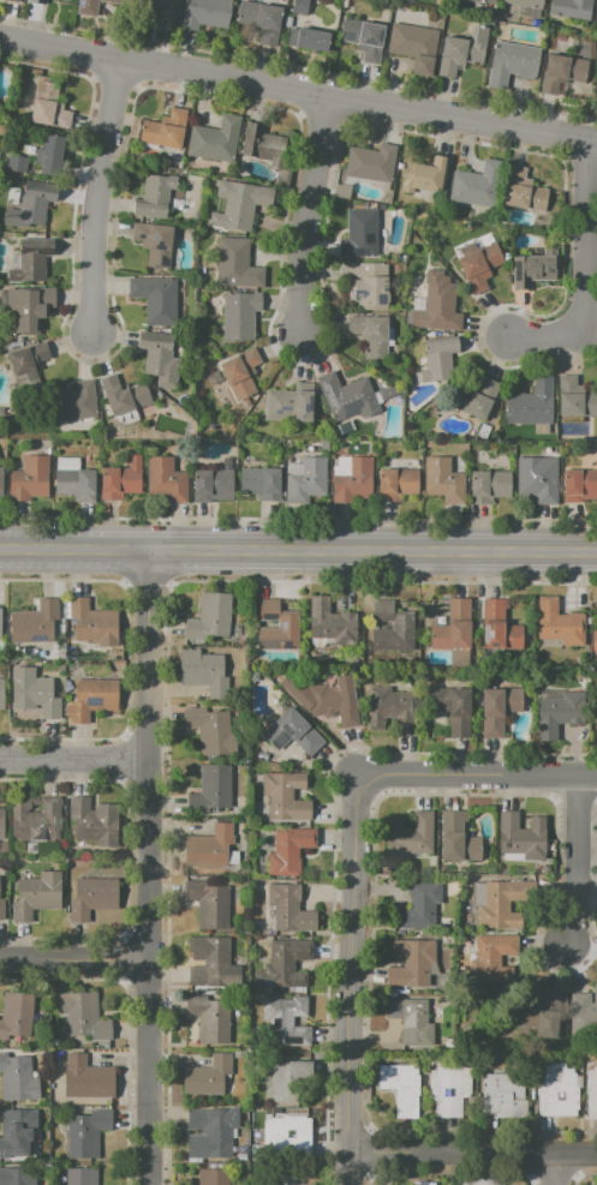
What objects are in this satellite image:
building: (10, 1)
building: (37, 1)
building: (484, 1)
building: (529, 4)
building: (94, 6)
building: (299, 7)
building: (157, 10)
building: (573, 10)
building: (205, 13)
building: (596, 13)
building: (261, 20)
building: (308, 38)
building: (365, 40)
building: (416, 46)
building: (464, 52)
building: (513, 64)
building: (563, 73)
road: (298, 90)
building: (49, 107)
building: (166, 130)
building: (216, 140)
building: (264, 145)
building: (50, 155)
building: (17, 163)
building: (372, 163)
building: (426, 175)
building: (195, 178)
building: (479, 185)
building: (525, 191)
road: (98, 197)
building: (155, 197)
building: (35, 203)
building: (244, 205)
road: (306, 216)
building: (360, 234)
building: (155, 243)
building: (441, 258)
building: (32, 261)
building: (239, 264)
building: (482, 267)
building: (536, 269)
road: (581, 269)
building: (368, 285)
building: (156, 299)
building: (442, 303)
building: (28, 310)
building: (241, 316)
building: (372, 334)
building: (161, 359)
building: (440, 359)
building: (28, 366)
building: (241, 373)
building: (352, 395)
building: (125, 400)
building: (474, 400)
building: (577, 400)
building: (74, 403)
building: (532, 403)
building: (289, 406)
building: (1, 444)
building: (30, 480)
building: (121, 480)
building: (167, 480)
building: (539, 480)
building: (308, 481)
building: (354, 481)
building: (446, 481)
building: (0, 483)
building: (262, 484)
building: (396, 484)
building: (77, 485)
building: (580, 486)
building: (213, 487)
building: (490, 487)
road: (298, 550)
building: (211, 618)
building: (0, 623)
building: (35, 623)
building: (94, 623)
building: (332, 623)
building: (561, 624)
building: (291, 626)
building: (404, 627)
building: (454, 628)
building: (500, 628)
building: (595, 644)
building: (204, 674)
building: (253, 676)
building: (2, 694)
building: (37, 696)
building: (92, 699)
building: (335, 704)
building: (500, 708)
building: (390, 711)
building: (454, 711)
building: (560, 714)
building: (211, 730)
building: (293, 732)
road: (74, 761)
road: (477, 774)
building: (213, 789)
building: (287, 797)
building: (37, 820)
building: (1, 824)
building: (96, 824)
building: (410, 837)
building: (523, 837)
building: (459, 839)
building: (215, 848)
building: (291, 850)
road: (578, 858)
road: (150, 867)
building: (41, 896)
building: (97, 898)
building: (213, 904)
building: (505, 904)
building: (420, 906)
building: (1, 909)
building: (291, 909)
building: (494, 958)
road: (76, 959)
building: (209, 960)
building: (412, 963)
building: (285, 965)
road: (351, 978)
building: (583, 1010)
building: (19, 1017)
building: (86, 1017)
building: (544, 1018)
building: (210, 1019)
building: (287, 1022)
building: (412, 1022)
building: (209, 1077)
building: (19, 1078)
building: (90, 1079)
building: (288, 1081)
building: (402, 1089)
building: (450, 1089)
building: (557, 1091)
building: (592, 1094)
building: (505, 1095)
building: (18, 1132)
building: (211, 1132)
building: (88, 1133)
building: (288, 1136)
building: (241, 1150)
road: (473, 1153)
building: (240, 1157)
road: (555, 1168)
building: (18, 1177)
building: (82, 1177)
building: (214, 1177)
building: (282, 1177)
building: (484, 1181)
building: (423, 1184)

